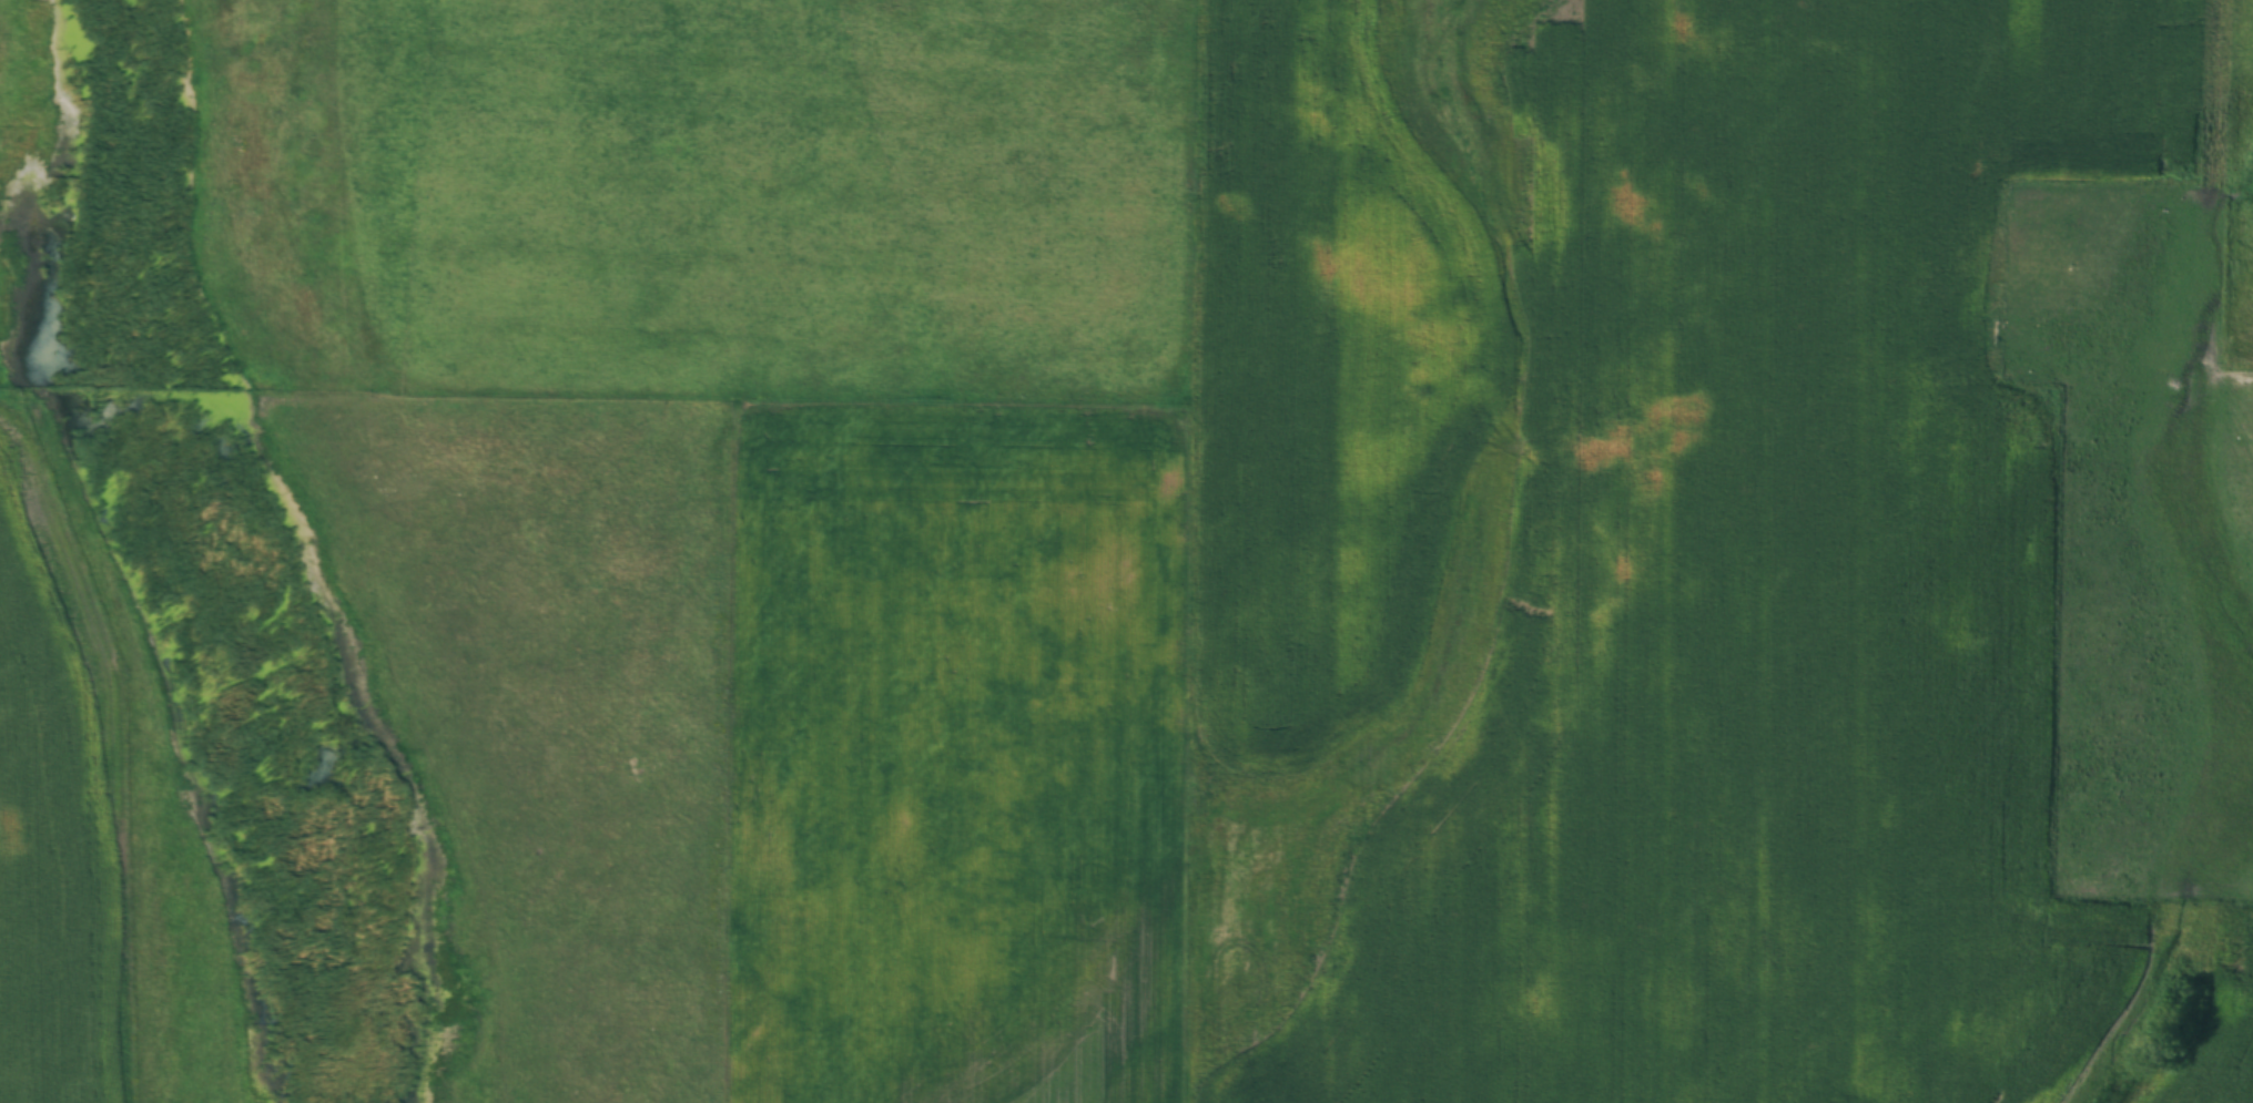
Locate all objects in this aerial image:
crop: (960, 757)

